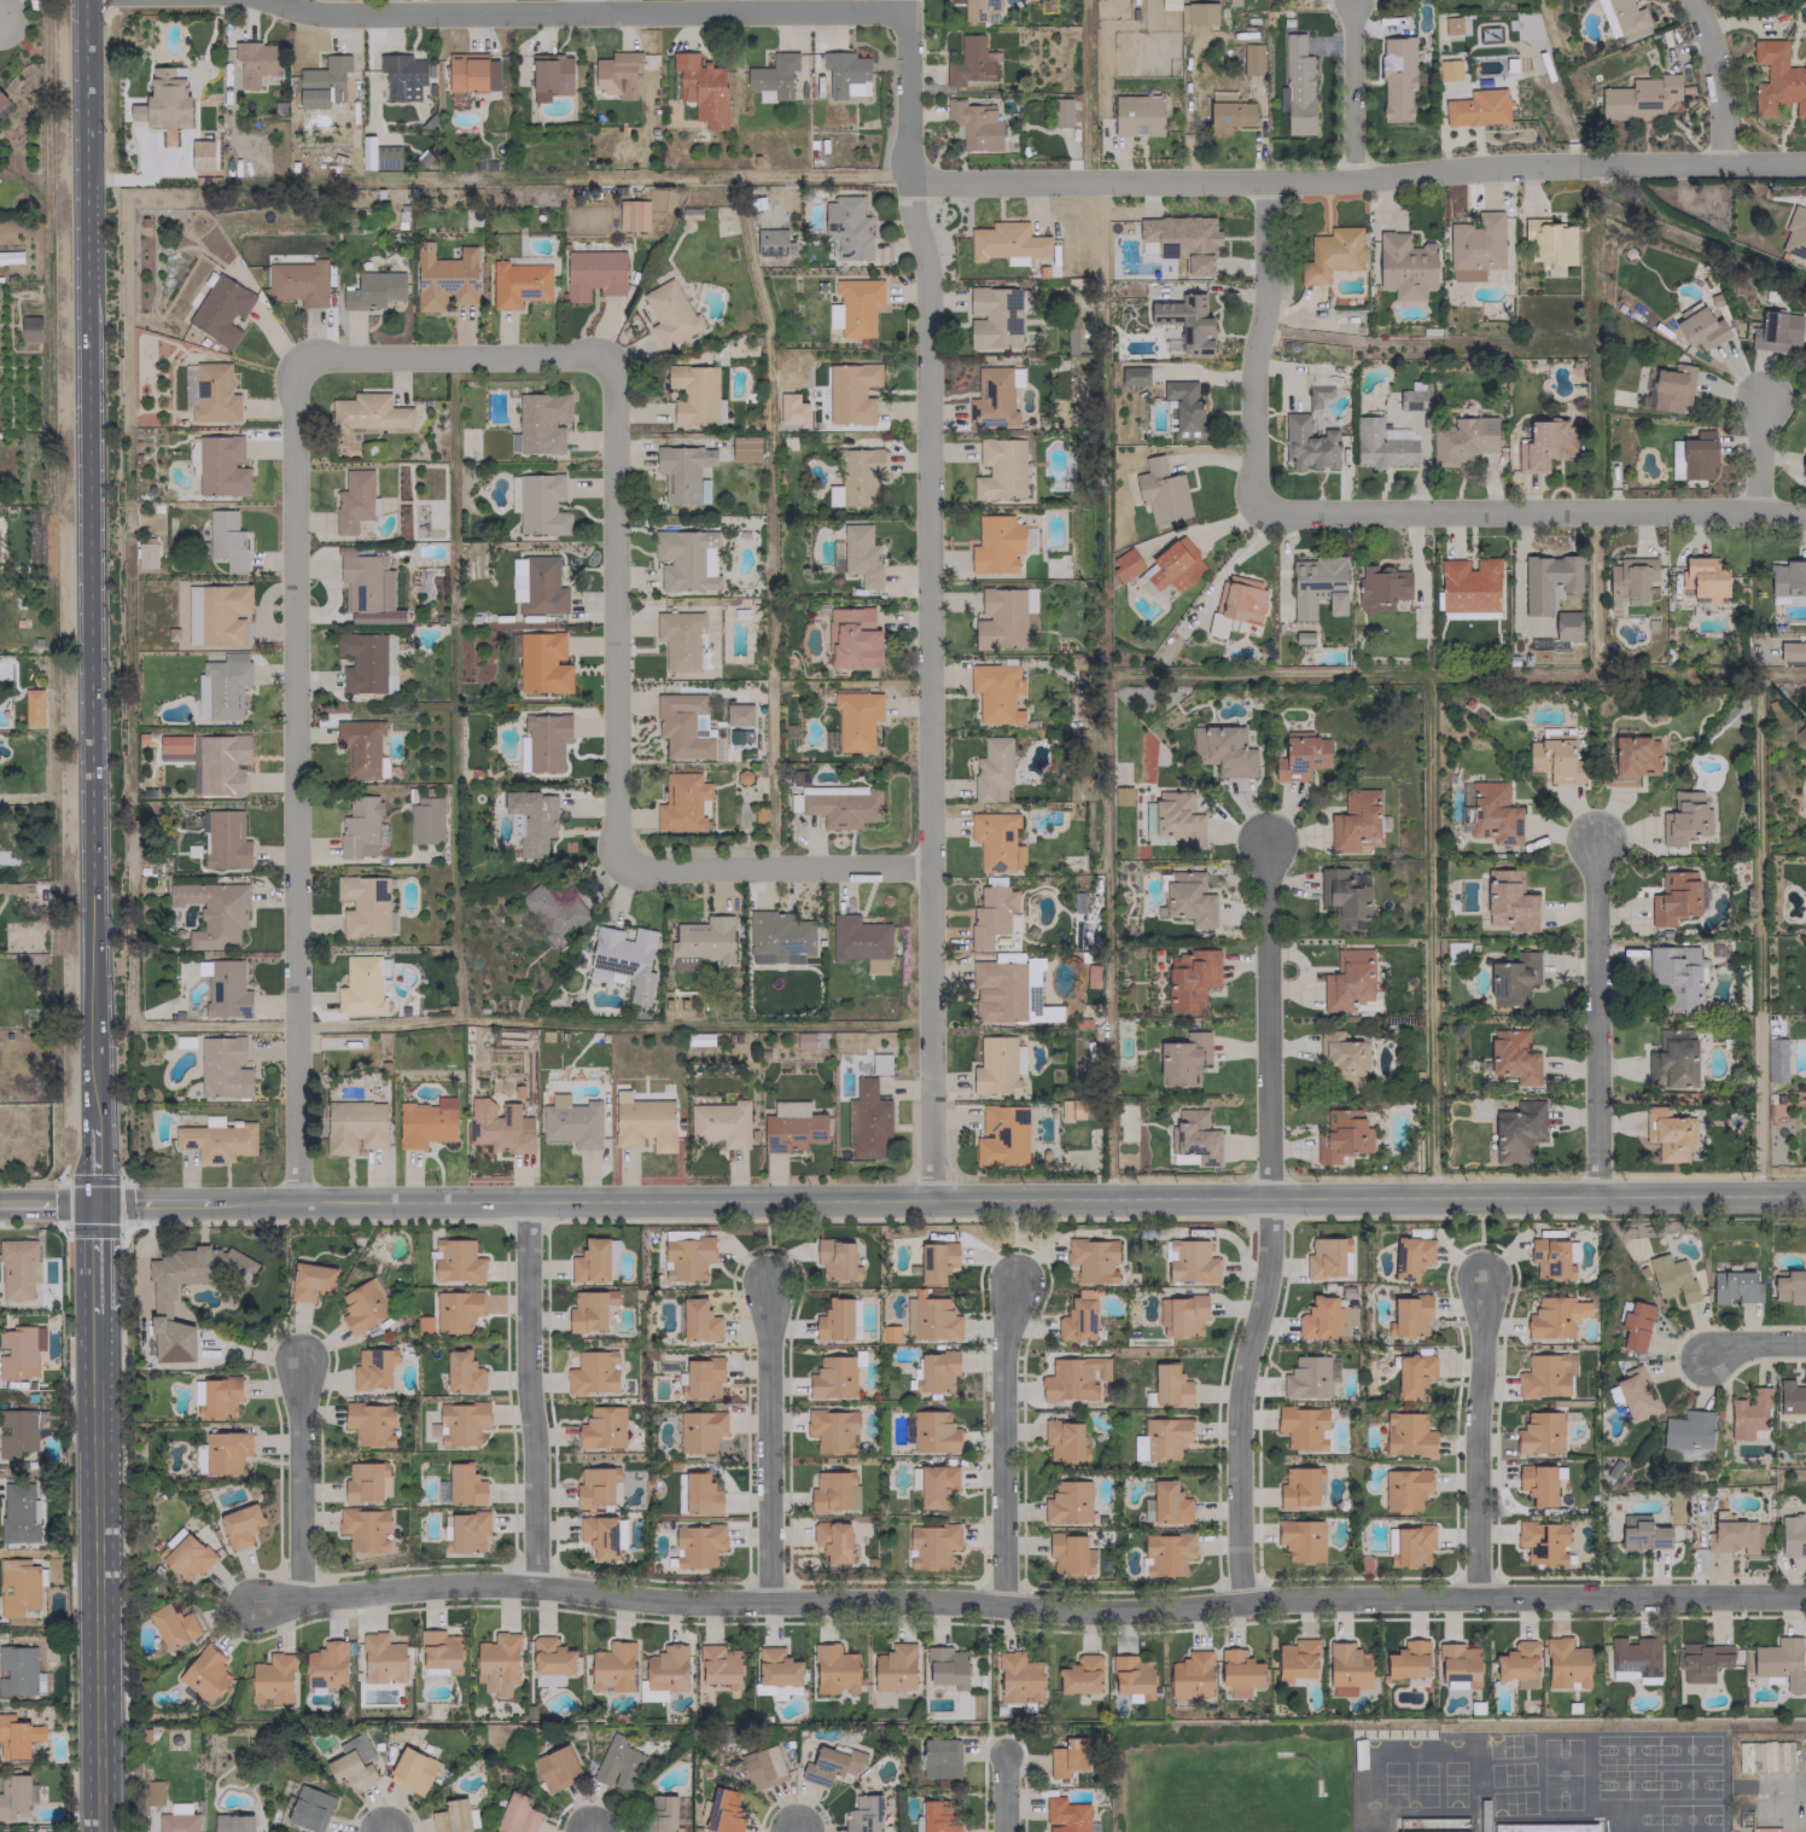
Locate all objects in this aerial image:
road: (577, 5)
building: (978, 10)
road: (589, 11)
building: (1198, 12)
building: (1620, 16)
building: (1251, 59)
building: (969, 62)
building: (257, 63)
building: (1447, 69)
building: (471, 72)
building: (616, 72)
building: (845, 74)
building: (402, 76)
building: (550, 76)
building: (771, 76)
building: (1397, 77)
road: (1717, 78)
building: (1777, 78)
building: (322, 81)
building: (1297, 86)
building: (701, 88)
road: (1351, 88)
building: (1, 98)
building: (1638, 98)
building: (164, 99)
building: (1476, 107)
building: (1060, 112)
building: (1227, 112)
building: (1136, 115)
building: (974, 124)
building: (378, 155)
road: (1357, 176)
building: (633, 215)
building: (846, 227)
building: (1795, 233)
building: (1182, 239)
building: (773, 242)
building: (1006, 242)
building: (1550, 243)
building: (1475, 245)
building: (1330, 254)
building: (1404, 266)
building: (593, 273)
building: (444, 277)
building: (298, 281)
building: (518, 283)
building: (373, 290)
building: (857, 304)
building: (220, 309)
building: (669, 314)
building: (833, 315)
building: (992, 316)
building: (1185, 321)
building: (1699, 326)
building: (29, 328)
building: (1775, 331)
building: (1070, 333)
road: (1254, 344)
road: (453, 355)
building: (1134, 376)
building: (1671, 388)
building: (851, 391)
building: (212, 392)
building: (694, 395)
building: (1317, 395)
building: (994, 396)
building: (1411, 396)
building: (1184, 408)
building: (368, 412)
building: (540, 423)
building: (1462, 440)
building: (1307, 443)
building: (1383, 443)
building: (1545, 444)
building: (744, 448)
road: (1755, 454)
building: (1691, 455)
building: (1802, 463)
building: (221, 465)
building: (1000, 469)
building: (681, 471)
building: (855, 477)
building: (1159, 490)
building: (353, 500)
building: (541, 505)
road: (1531, 510)
building: (226, 539)
building: (1027, 539)
building: (995, 543)
building: (145, 554)
building: (860, 554)
building: (686, 559)
building: (1125, 564)
road: (89, 565)
building: (1173, 565)
building: (517, 566)
building: (1702, 578)
building: (1548, 580)
building: (1629, 581)
building: (1787, 581)
building: (1316, 585)
building: (1468, 585)
building: (542, 586)
building: (363, 587)
building: (1381, 587)
road: (928, 598)
building: (1240, 598)
road: (614, 612)
building: (1566, 626)
building: (1219, 627)
building: (851, 638)
building: (683, 641)
building: (1792, 650)
building: (366, 662)
building: (542, 663)
building: (221, 686)
building: (995, 692)
building: (33, 708)
building: (738, 714)
building: (856, 719)
building: (683, 726)
building: (546, 740)
building: (174, 744)
building: (359, 746)
building: (1222, 750)
building: (1300, 755)
building: (174, 756)
building: (1554, 757)
building: (1631, 758)
building: (221, 763)
building: (991, 767)
road: (293, 780)
building: (1120, 795)
building: (681, 802)
building: (840, 804)
building: (1493, 813)
building: (1176, 818)
building: (1682, 818)
building: (532, 819)
building: (425, 820)
building: (1354, 821)
building: (359, 827)
building: (225, 839)
building: (996, 841)
road: (774, 865)
building: (1345, 896)
building: (1673, 897)
building: (1187, 898)
building: (1508, 901)
building: (1077, 902)
building: (365, 905)
building: (552, 909)
building: (212, 912)
building: (990, 914)
building: (777, 937)
building: (860, 941)
building: (701, 942)
building: (623, 960)
building: (1676, 975)
building: (1189, 977)
building: (1510, 977)
building: (1347, 979)
building: (360, 985)
building: (226, 989)
building: (1006, 990)
road: (1594, 1019)
building: (803, 1040)
building: (1340, 1055)
building: (1513, 1055)
building: (1183, 1058)
building: (1672, 1059)
building: (879, 1063)
building: (996, 1065)
building: (223, 1066)
building: (866, 1119)
building: (425, 1122)
building: (571, 1122)
building: (643, 1123)
building: (720, 1123)
building: (495, 1124)
building: (353, 1126)
building: (791, 1127)
building: (1516, 1130)
building: (1666, 1133)
building: (1001, 1135)
building: (1339, 1135)
building: (1193, 1136)
building: (216, 1139)
road: (95, 1167)
road: (950, 1199)
road: (47, 1203)
road: (1270, 1222)
building: (1805, 1251)
road: (95, 1256)
building: (834, 1257)
building: (1324, 1257)
building: (1410, 1257)
building: (1091, 1258)
building: (456, 1261)
building: (590, 1261)
building: (936, 1261)
building: (1192, 1262)
building: (18, 1268)
building: (1671, 1276)
building: (310, 1281)
building: (1788, 1285)
building: (1734, 1286)
building: (161, 1301)
building: (365, 1305)
building: (455, 1310)
building: (587, 1312)
building: (1181, 1315)
building: (1348, 1315)
building: (1409, 1315)
building: (1077, 1316)
building: (1554, 1316)
building: (1317, 1318)
building: (930, 1319)
building: (698, 1320)
building: (834, 1320)
building: (1635, 1326)
road: (1754, 1343)
building: (19, 1350)
building: (371, 1368)
building: (936, 1371)
building: (461, 1372)
building: (592, 1372)
building: (1412, 1374)
building: (1544, 1374)
building: (832, 1377)
building: (1309, 1377)
building: (700, 1378)
building: (1073, 1378)
building: (1170, 1385)
building: (1635, 1392)
road: (529, 1395)
building: (219, 1396)
building: (1792, 1397)
building: (1749, 1415)
building: (368, 1423)
building: (461, 1423)
building: (1303, 1426)
building: (601, 1427)
building: (699, 1430)
building: (832, 1430)
building: (1686, 1430)
building: (19, 1431)
building: (933, 1432)
building: (1539, 1432)
building: (1408, 1435)
building: (1165, 1437)
building: (1064, 1440)
road: (1478, 1440)
road: (765, 1442)
road: (1004, 1443)
building: (225, 1450)
road: (298, 1482)
building: (362, 1482)
building: (464, 1484)
building: (934, 1484)
building: (1537, 1484)
building: (1298, 1487)
building: (1404, 1489)
building: (829, 1490)
building: (695, 1494)
building: (1067, 1501)
building: (1167, 1502)
building: (239, 1525)
building: (363, 1528)
building: (468, 1530)
building: (1642, 1534)
building: (1732, 1534)
building: (599, 1535)
building: (1793, 1535)
building: (1300, 1539)
building: (832, 1541)
building: (1542, 1541)
building: (1412, 1543)
building: (698, 1545)
building: (932, 1545)
building: (1391, 1546)
building: (1067, 1553)
building: (1166, 1553)
building: (186, 1557)
road: (97, 1571)
building: (17, 1586)
road: (1032, 1607)
building: (171, 1624)
building: (439, 1651)
building: (550, 1656)
building: (1633, 1657)
building: (1297, 1658)
building: (381, 1659)
building: (1406, 1659)
building: (1701, 1661)
building: (496, 1663)
building: (717, 1663)
building: (1517, 1663)
building: (1565, 1663)
building: (1779, 1663)
building: (325, 1665)
building: (945, 1665)
building: (1457, 1665)
building: (611, 1667)
building: (776, 1667)
building: (665, 1668)
building: (893, 1668)
building: (1346, 1668)
building: (833, 1669)
building: (19, 1670)
building: (1237, 1671)
building: (204, 1674)
building: (1130, 1674)
building: (1190, 1674)
building: (1080, 1675)
building: (1018, 1677)
building: (272, 1679)
building: (547, 1679)
building: (770, 1691)
building: (13, 1738)
building: (355, 1747)
building: (1067, 1756)
building: (769, 1761)
building: (617, 1763)
building: (829, 1764)
building: (554, 1768)
building: (412, 1769)
building: (349, 1770)
road: (1003, 1792)
building: (13, 1796)
building: (309, 1808)
building: (723, 1810)
building: (659, 1813)
building: (517, 1814)
building: (863, 1814)
building: (1065, 1815)
building: (450, 1816)
building: (934, 1816)
building: (176, 1822)
building: (232, 1824)
building: (1544, 1827)
road: (793, 1830)
building: (35, 1831)
road: (388, 1831)
building: (1433, 1831)

